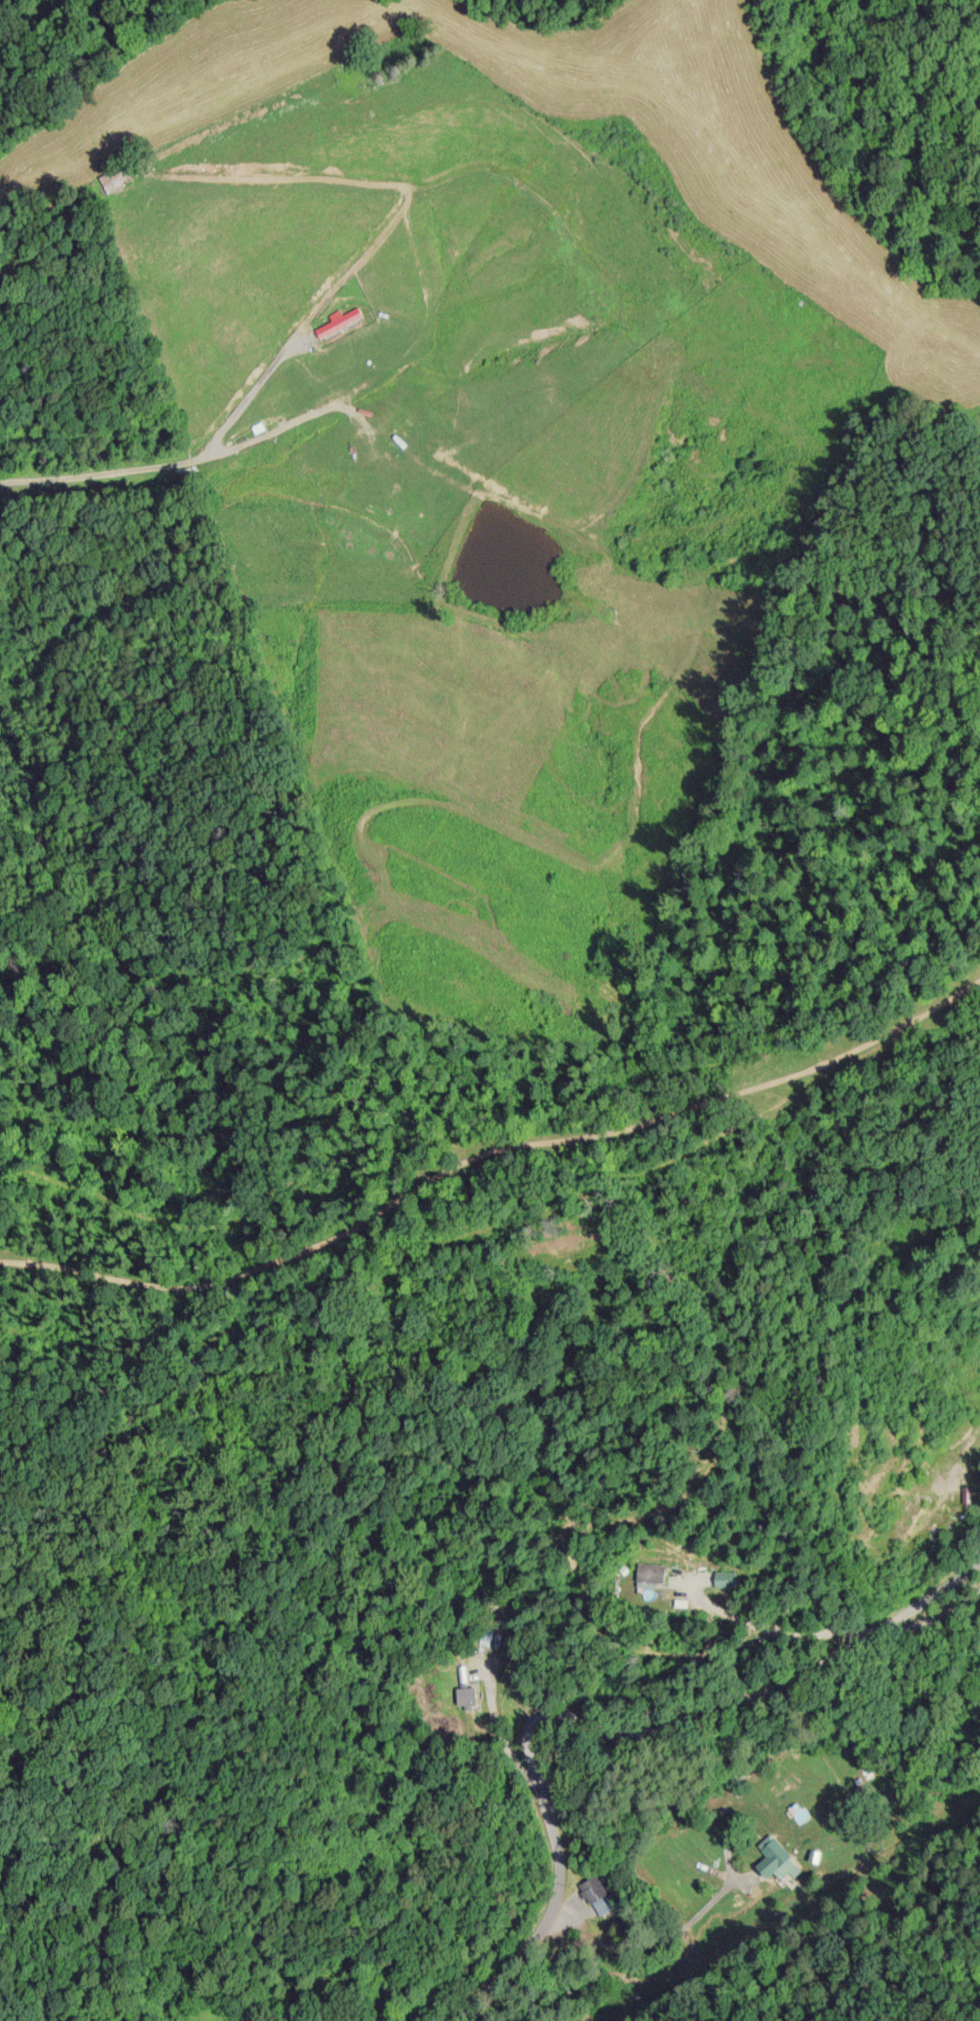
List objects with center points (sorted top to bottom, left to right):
building: (110, 177)
building: (336, 321)
road: (242, 411)
road: (490, 1161)
building: (649, 1572)
building: (720, 1577)
road: (921, 1610)
road: (765, 1670)
building: (776, 1859)
road: (550, 1890)
building: (596, 1892)

